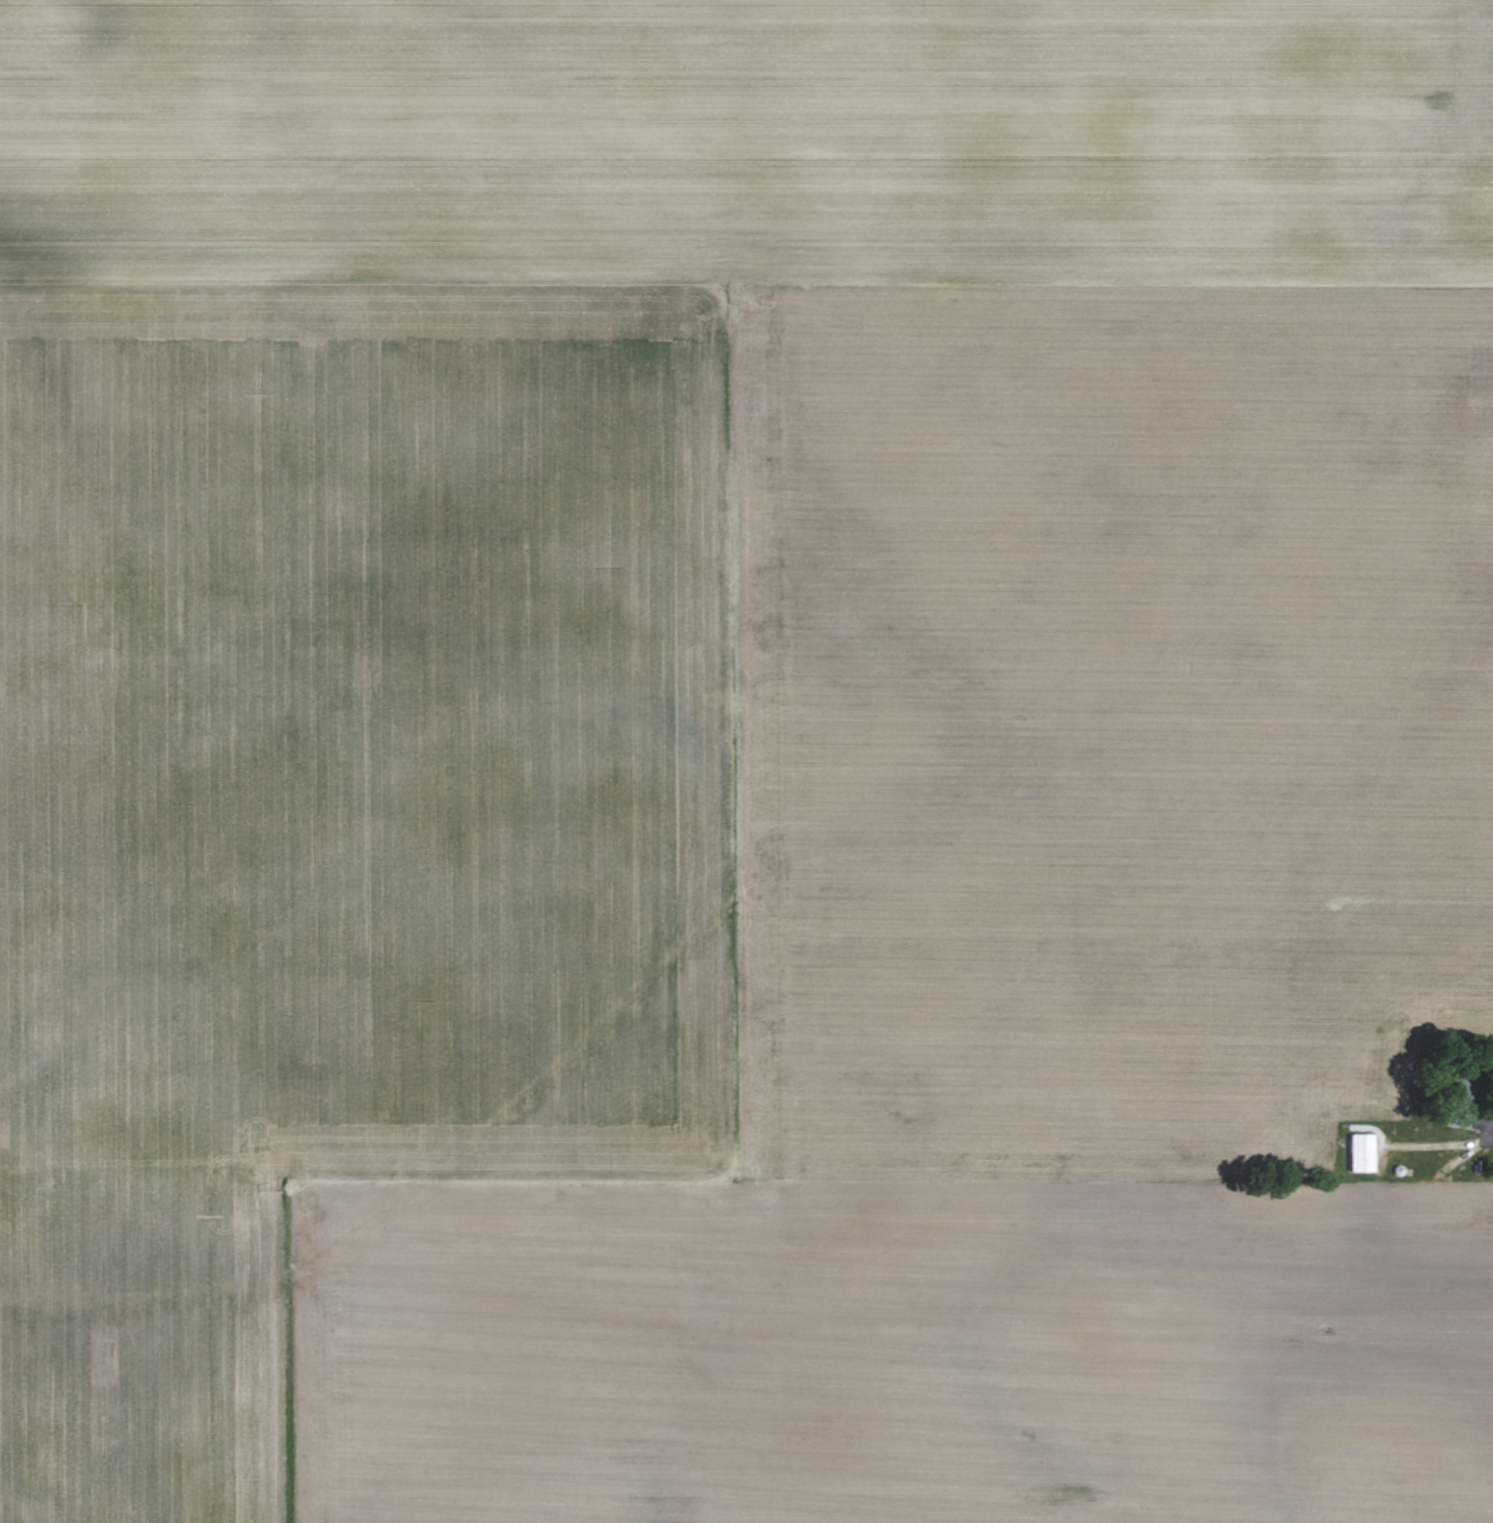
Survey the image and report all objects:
building: (1452, 1107)
road: (1491, 1122)
building: (1357, 1152)

